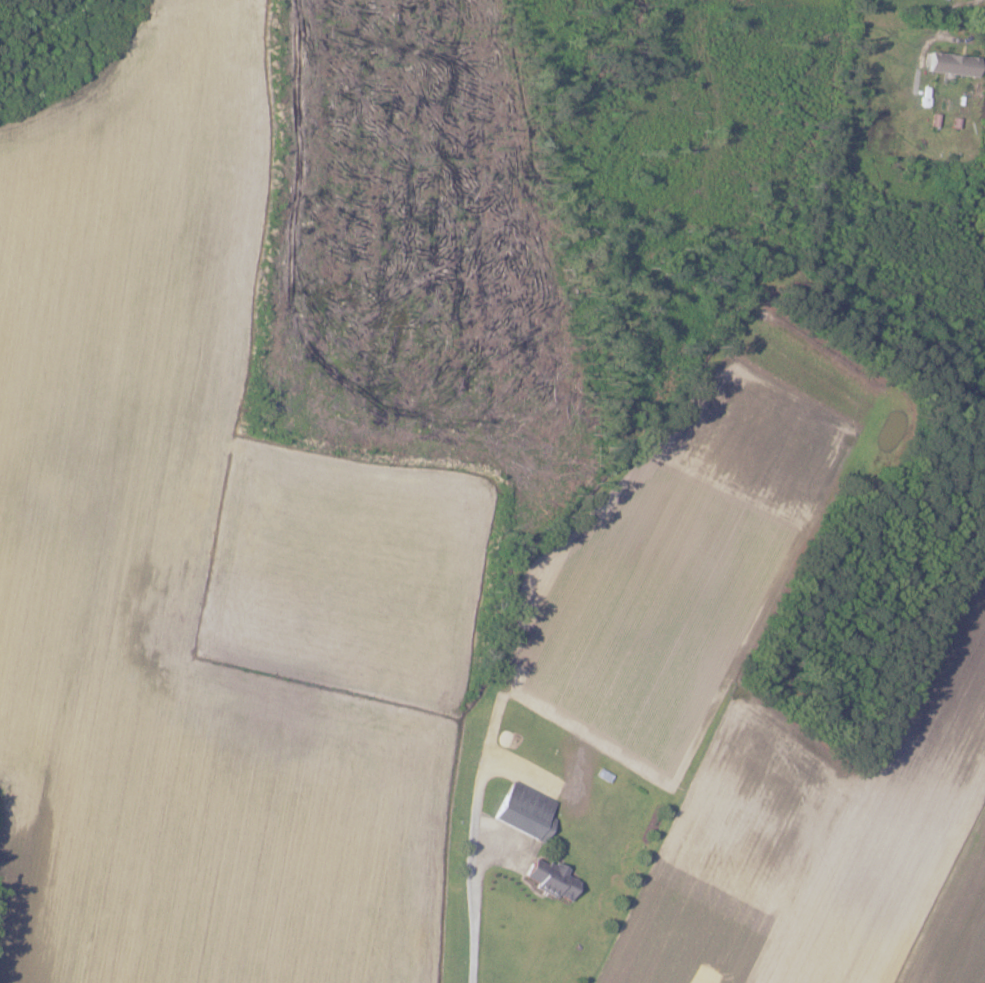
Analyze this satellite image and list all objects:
road: (951, 8)
building: (955, 63)
building: (527, 812)
building: (553, 880)
road: (474, 915)

